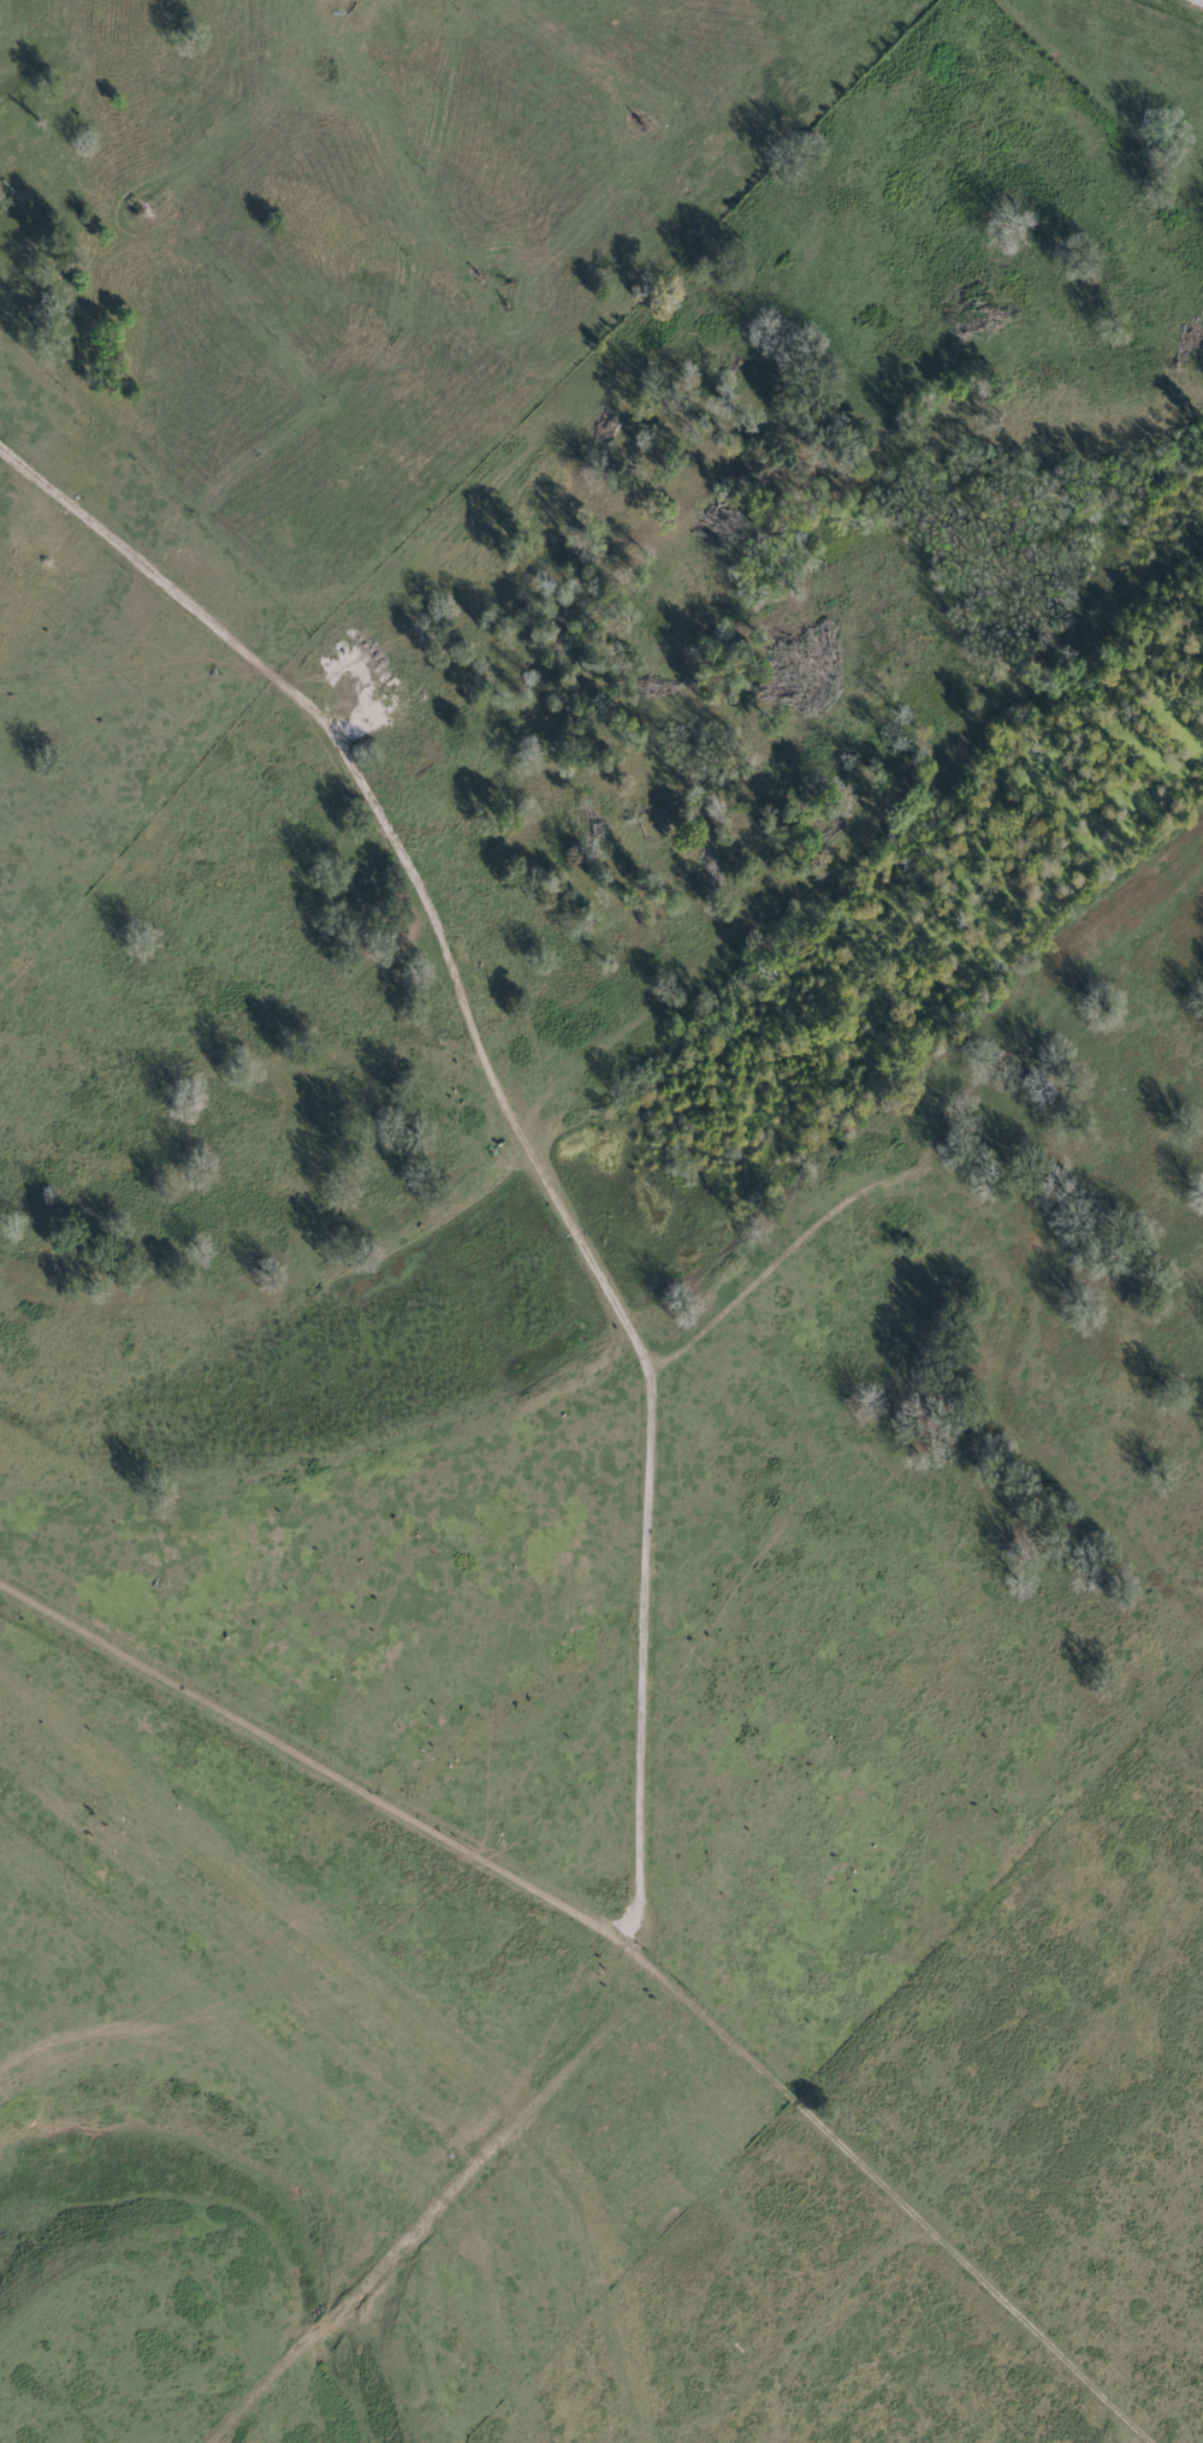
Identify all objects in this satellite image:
road: (1161, 19)

